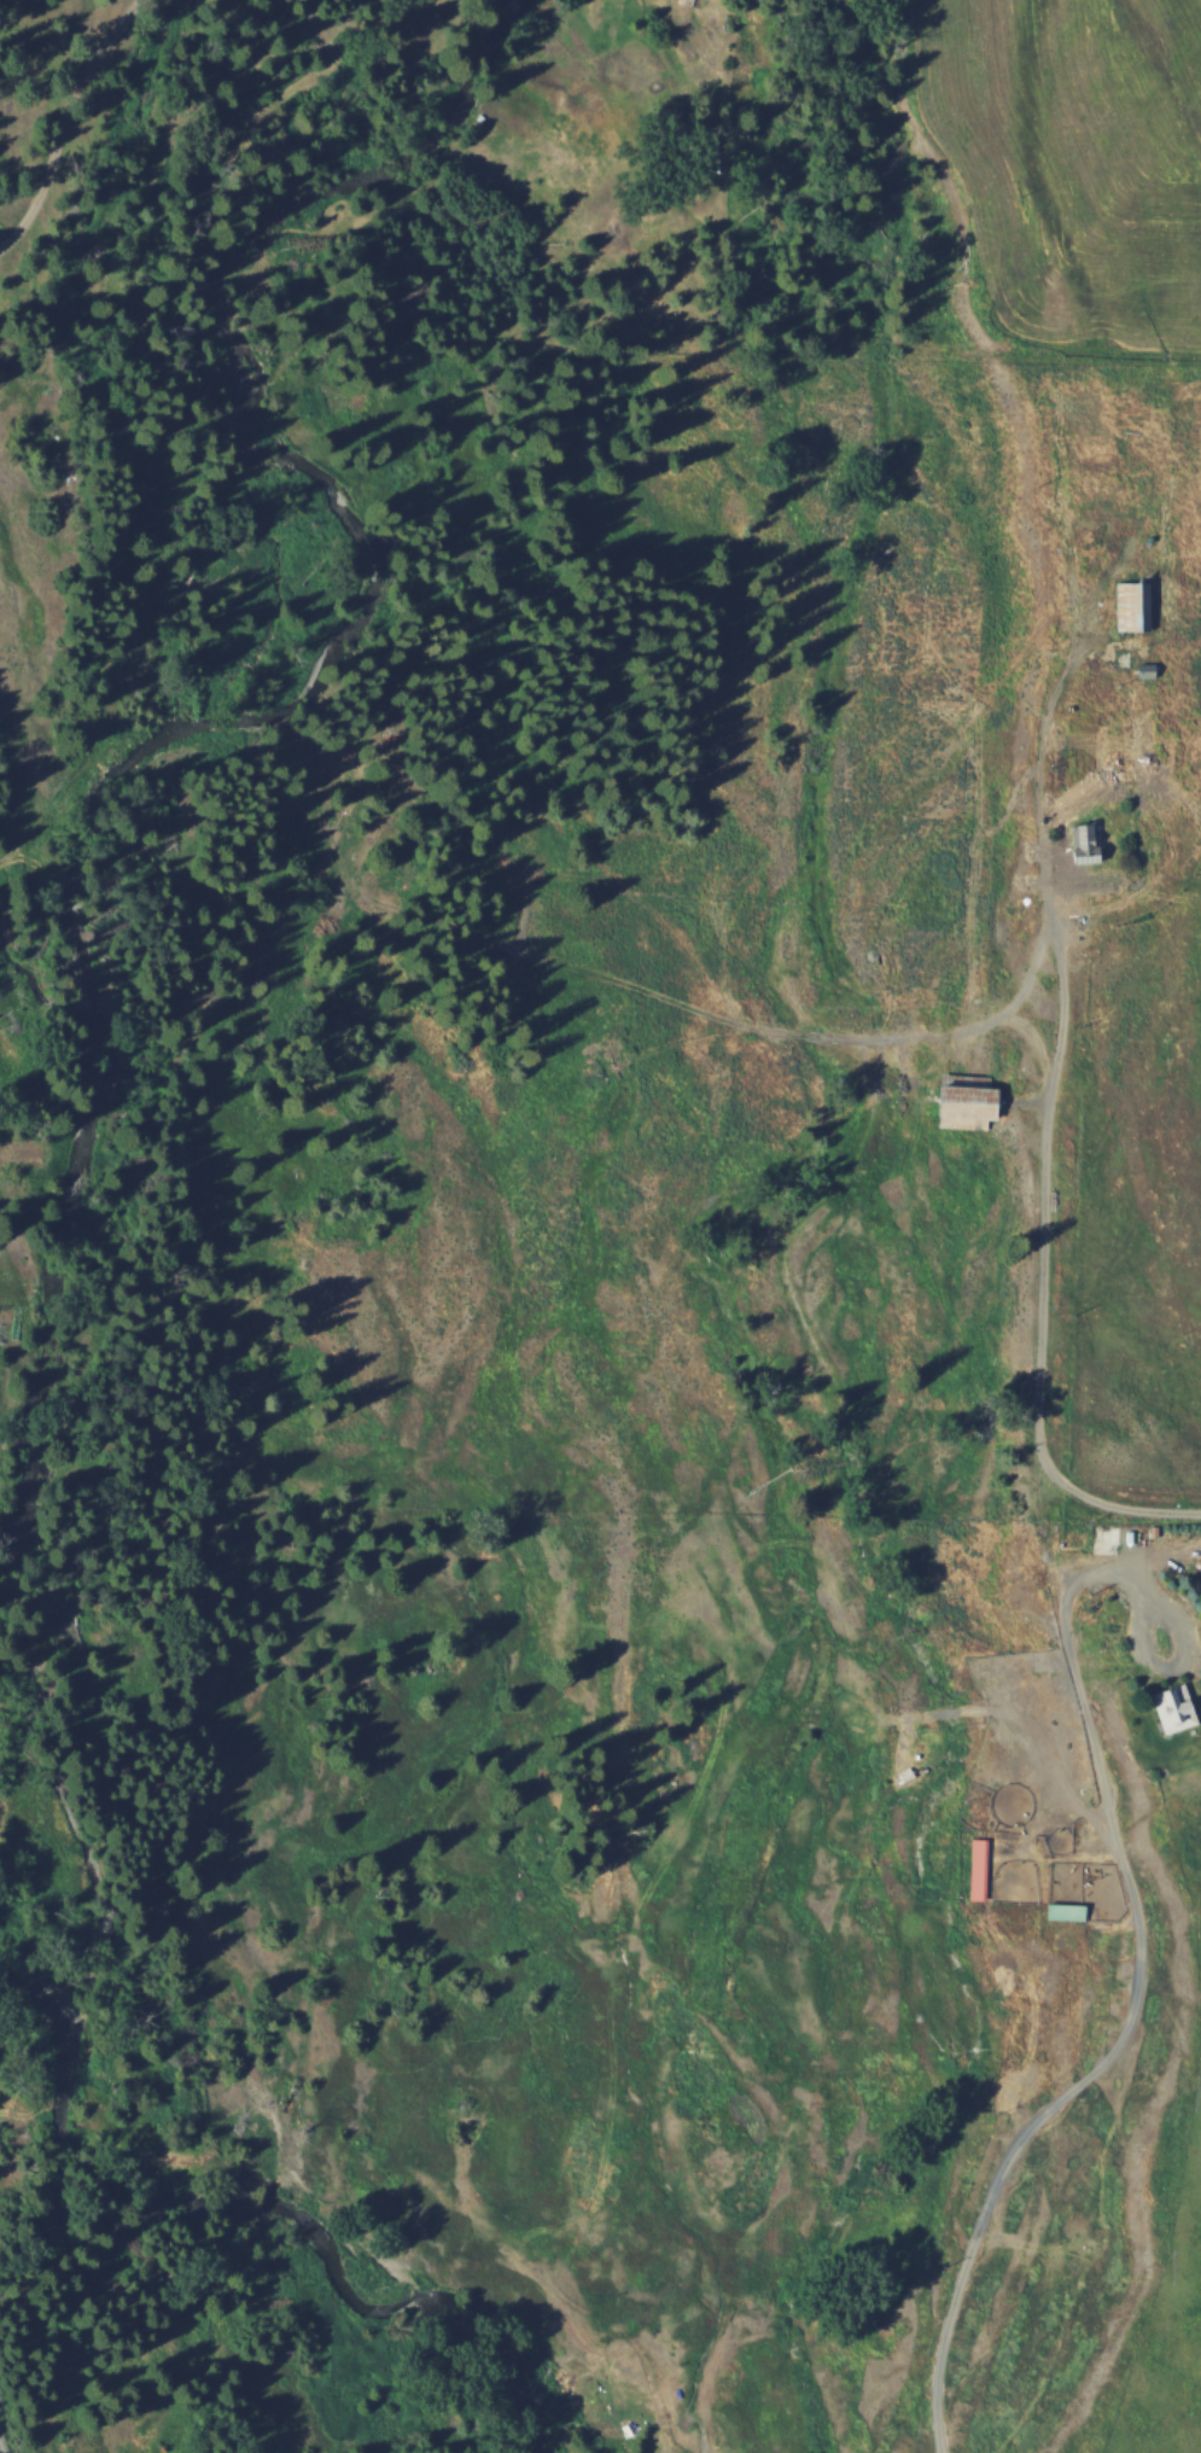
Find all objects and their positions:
building: (1130, 604)
building: (975, 1100)
river: (155, 1299)
crop: (967, 1338)
building: (1180, 1706)
building: (984, 1868)
building: (1072, 1910)

